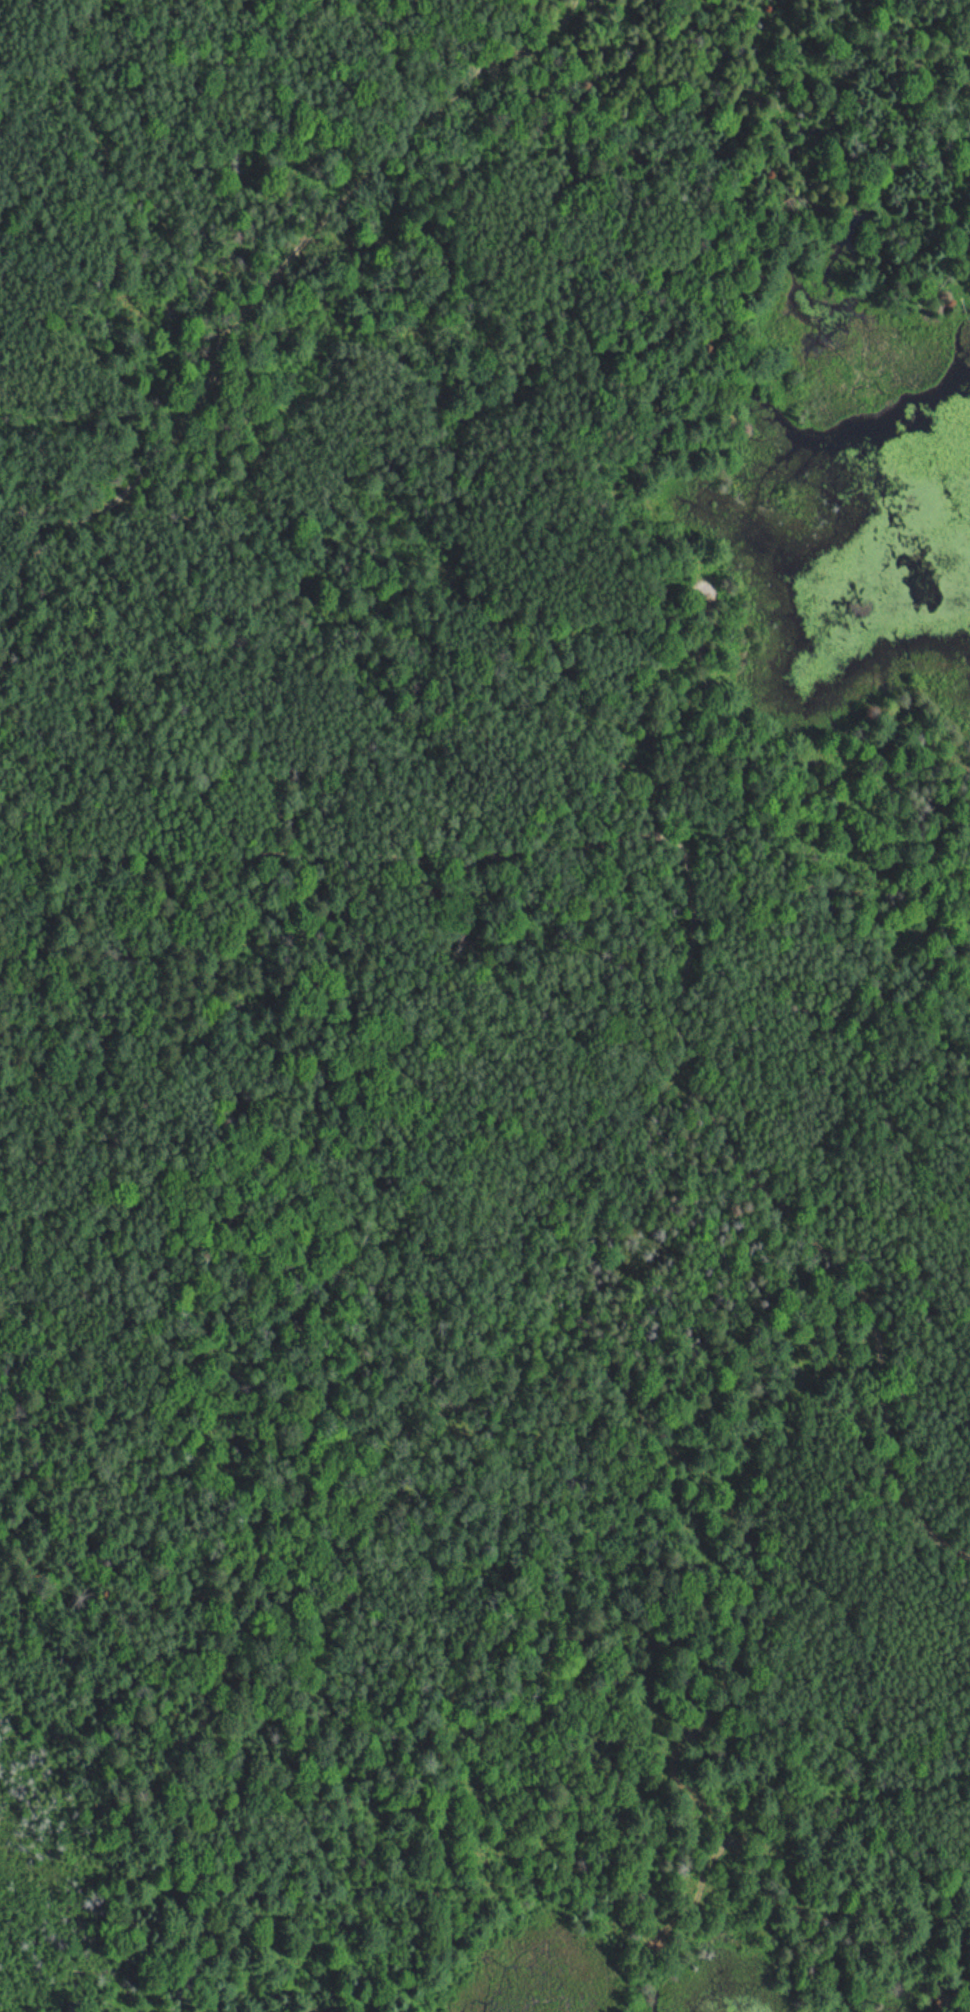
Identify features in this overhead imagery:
road: (271, 310)
road: (694, 908)

